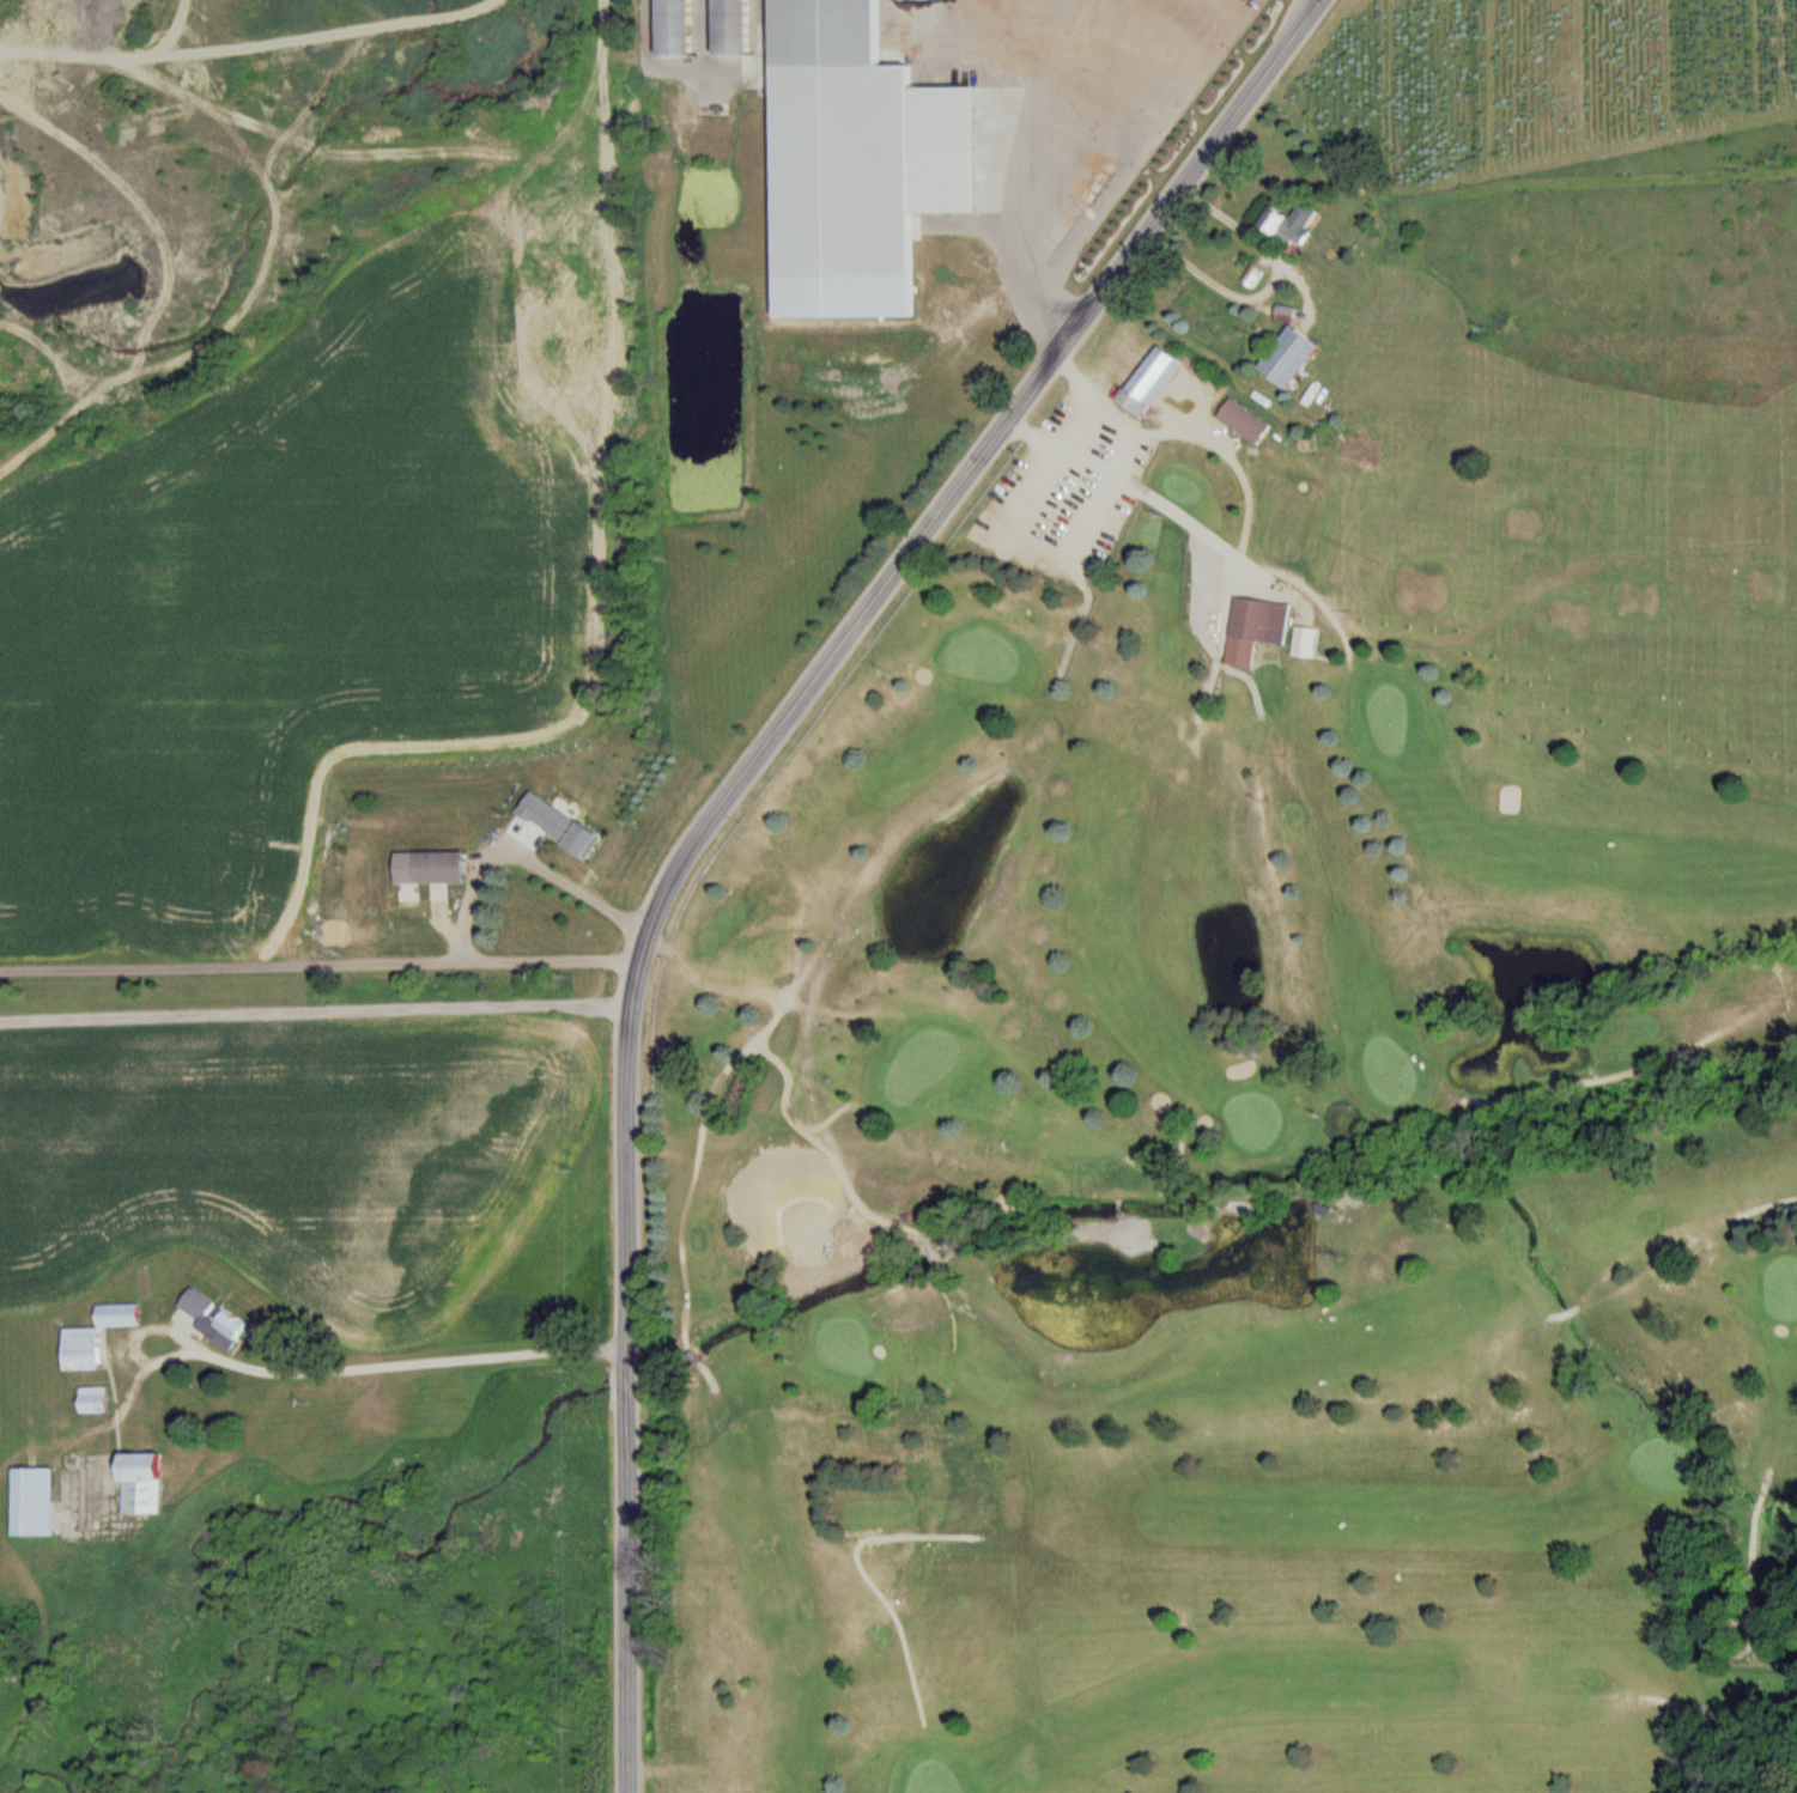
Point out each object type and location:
building: (1110, 24)
building: (673, 28)
building: (730, 28)
building: (824, 34)
building: (917, 39)
building: (1292, 225)
road: (1265, 281)
building: (1288, 357)
building: (1149, 381)
road: (1085, 399)
building: (1244, 420)
parking lot: (1080, 474)
road: (1147, 490)
building: (1255, 627)
building: (1305, 640)
road: (721, 808)
building: (564, 827)
road: (524, 853)
building: (439, 865)
road: (320, 966)
park: (1259, 1126)
building: (117, 1313)
building: (212, 1318)
building: (80, 1348)
road: (391, 1368)
building: (93, 1398)
building: (140, 1482)
building: (32, 1501)

